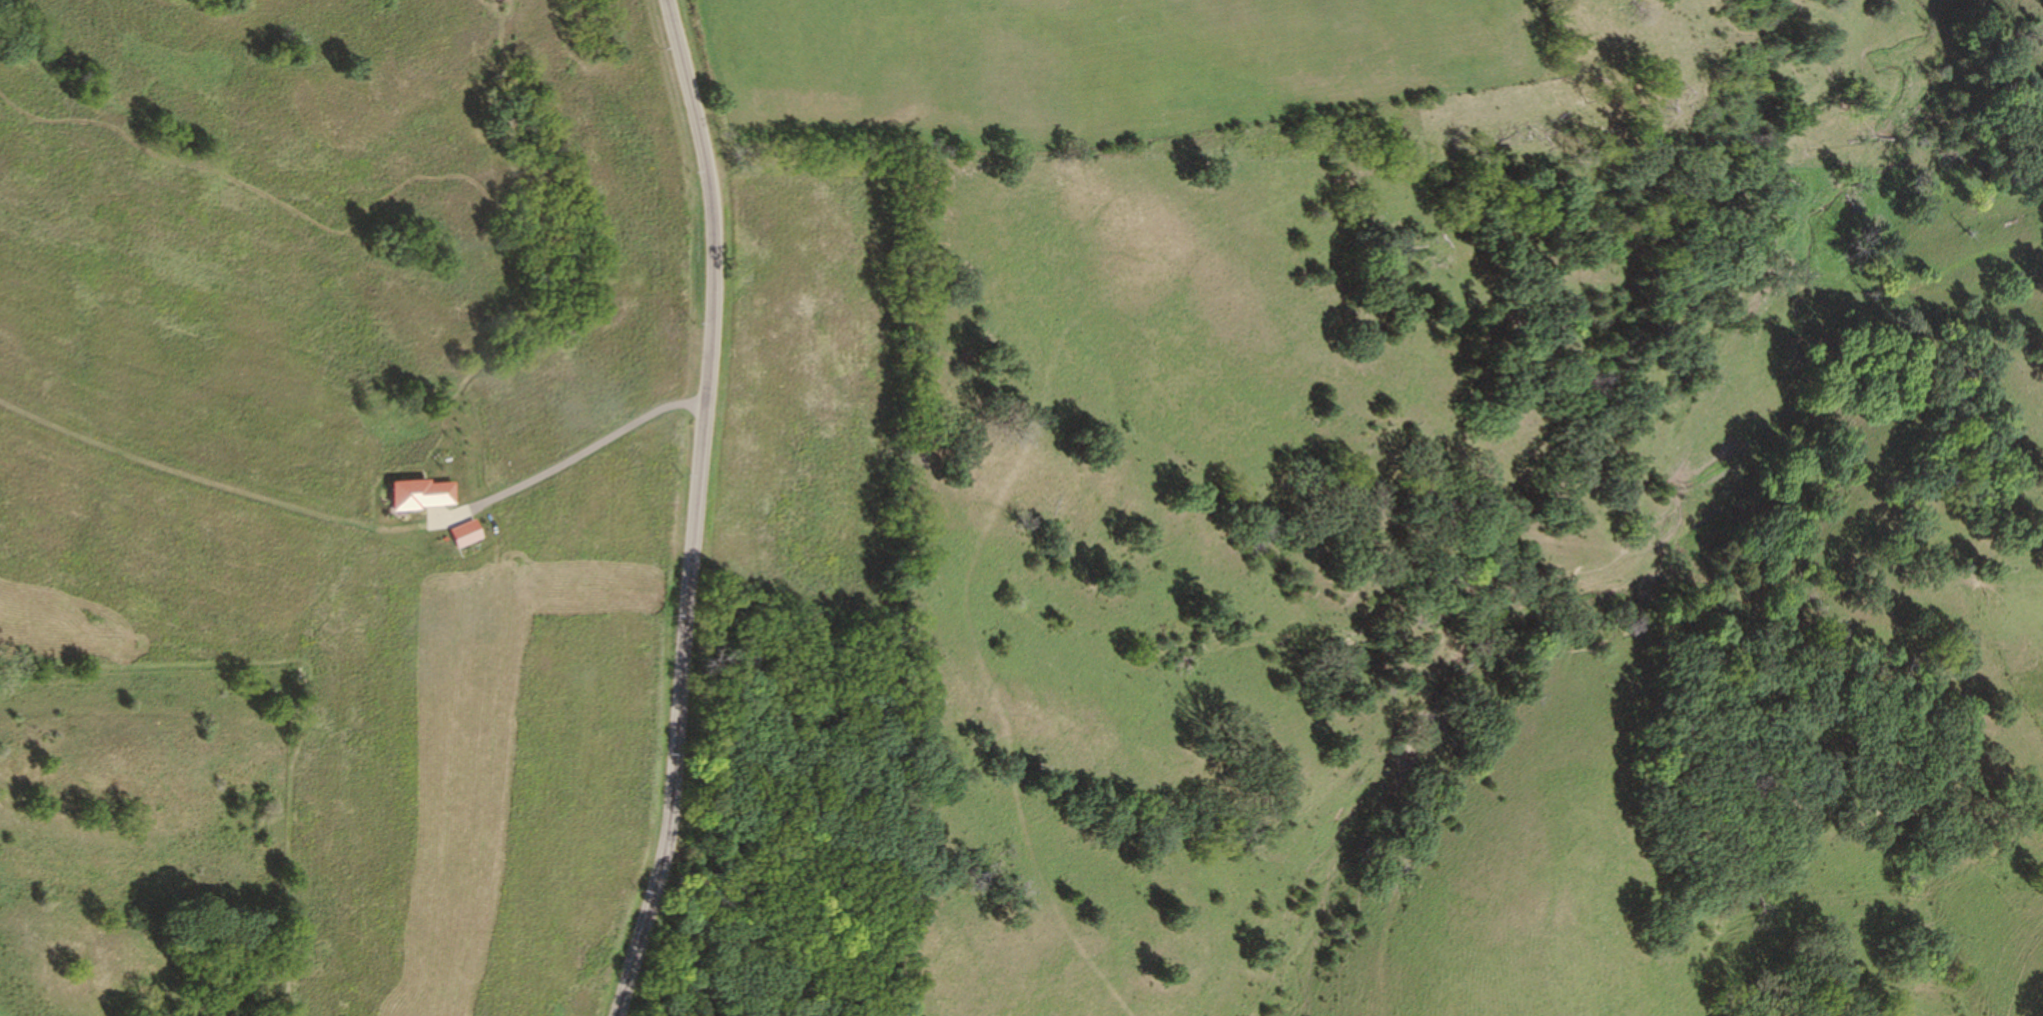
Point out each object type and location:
road: (726, 510)

